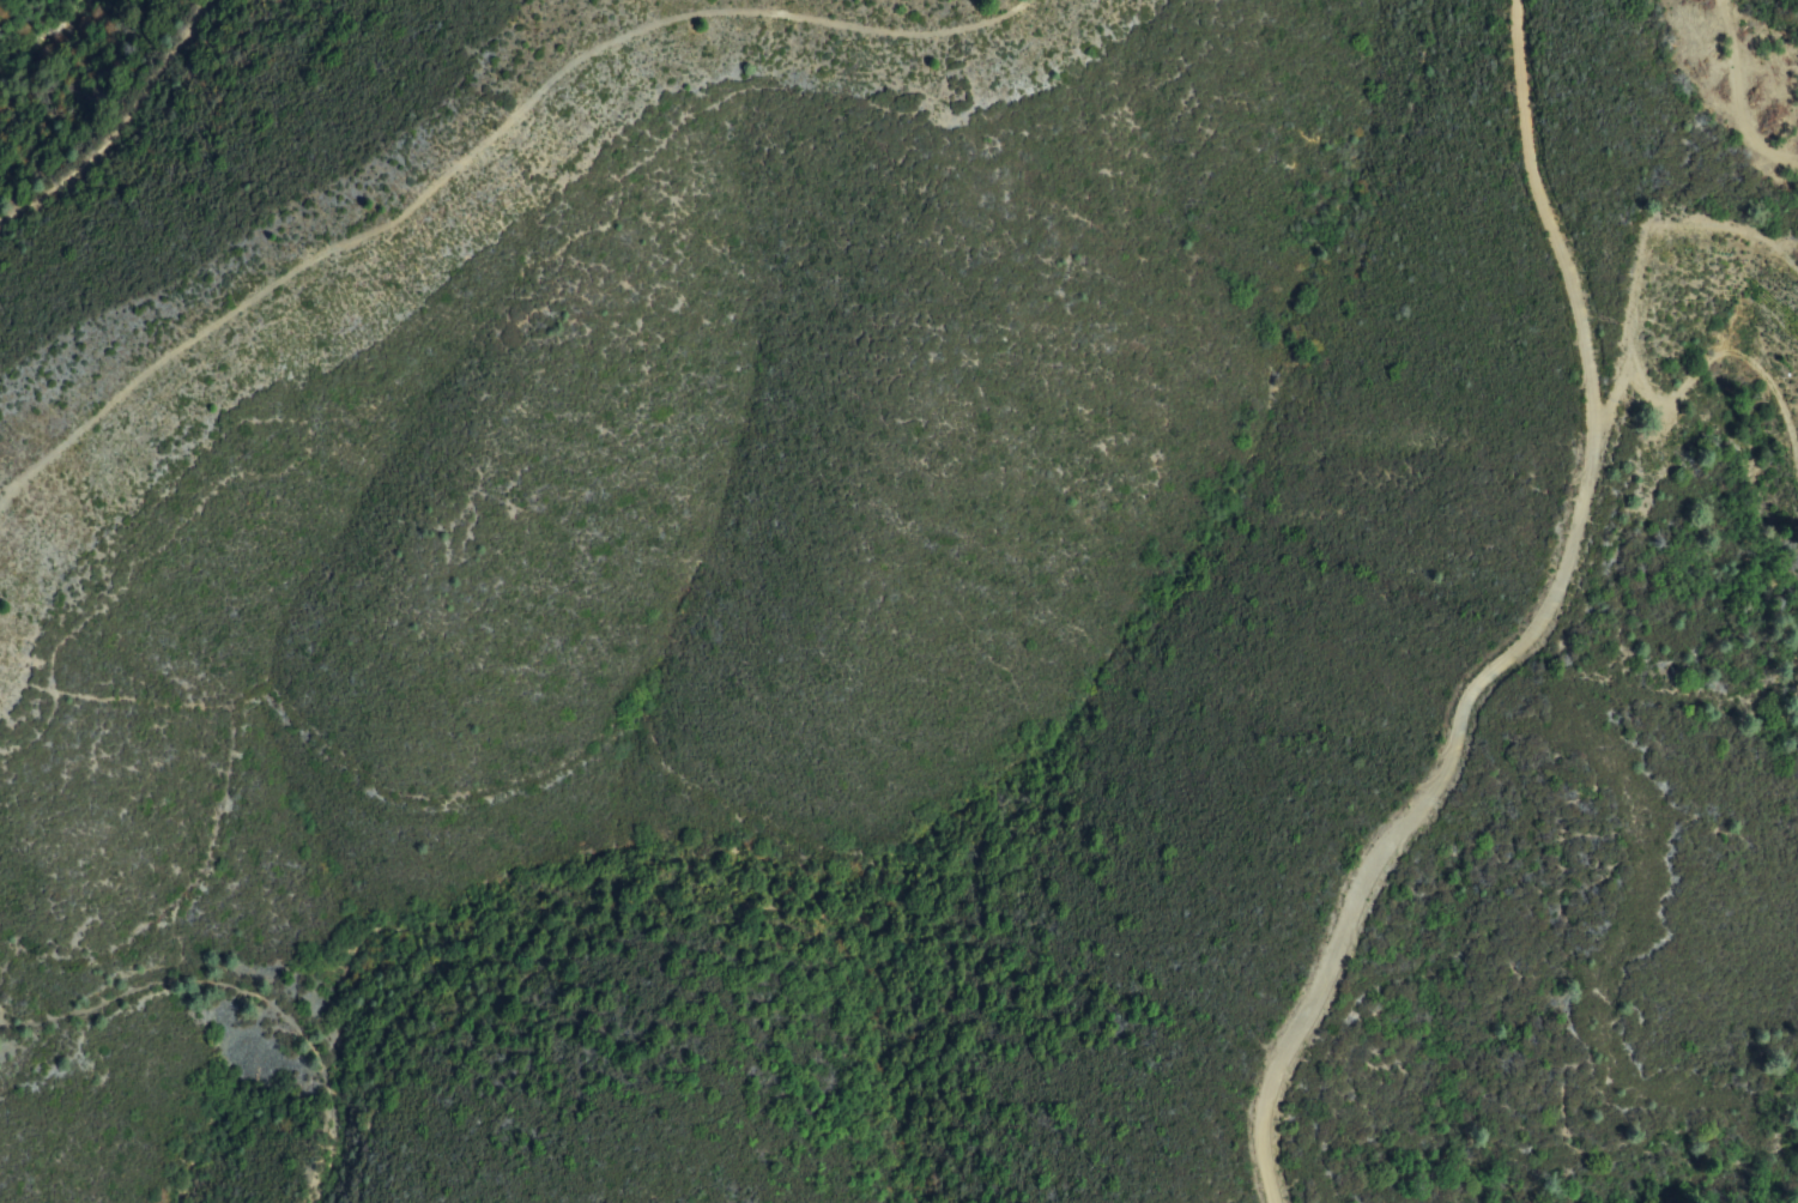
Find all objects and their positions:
road: (119, 125)
road: (1534, 629)
road: (250, 989)

